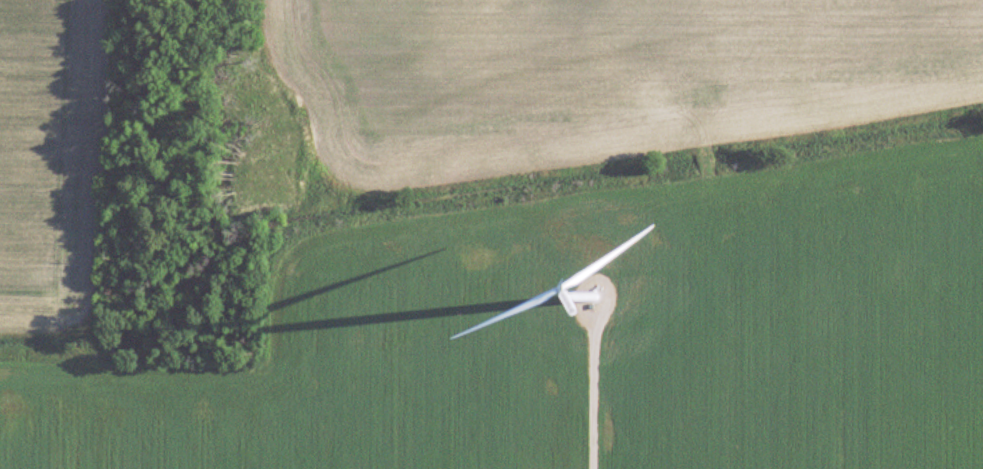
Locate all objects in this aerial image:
wind turbine: (593, 297)
road: (583, 414)

